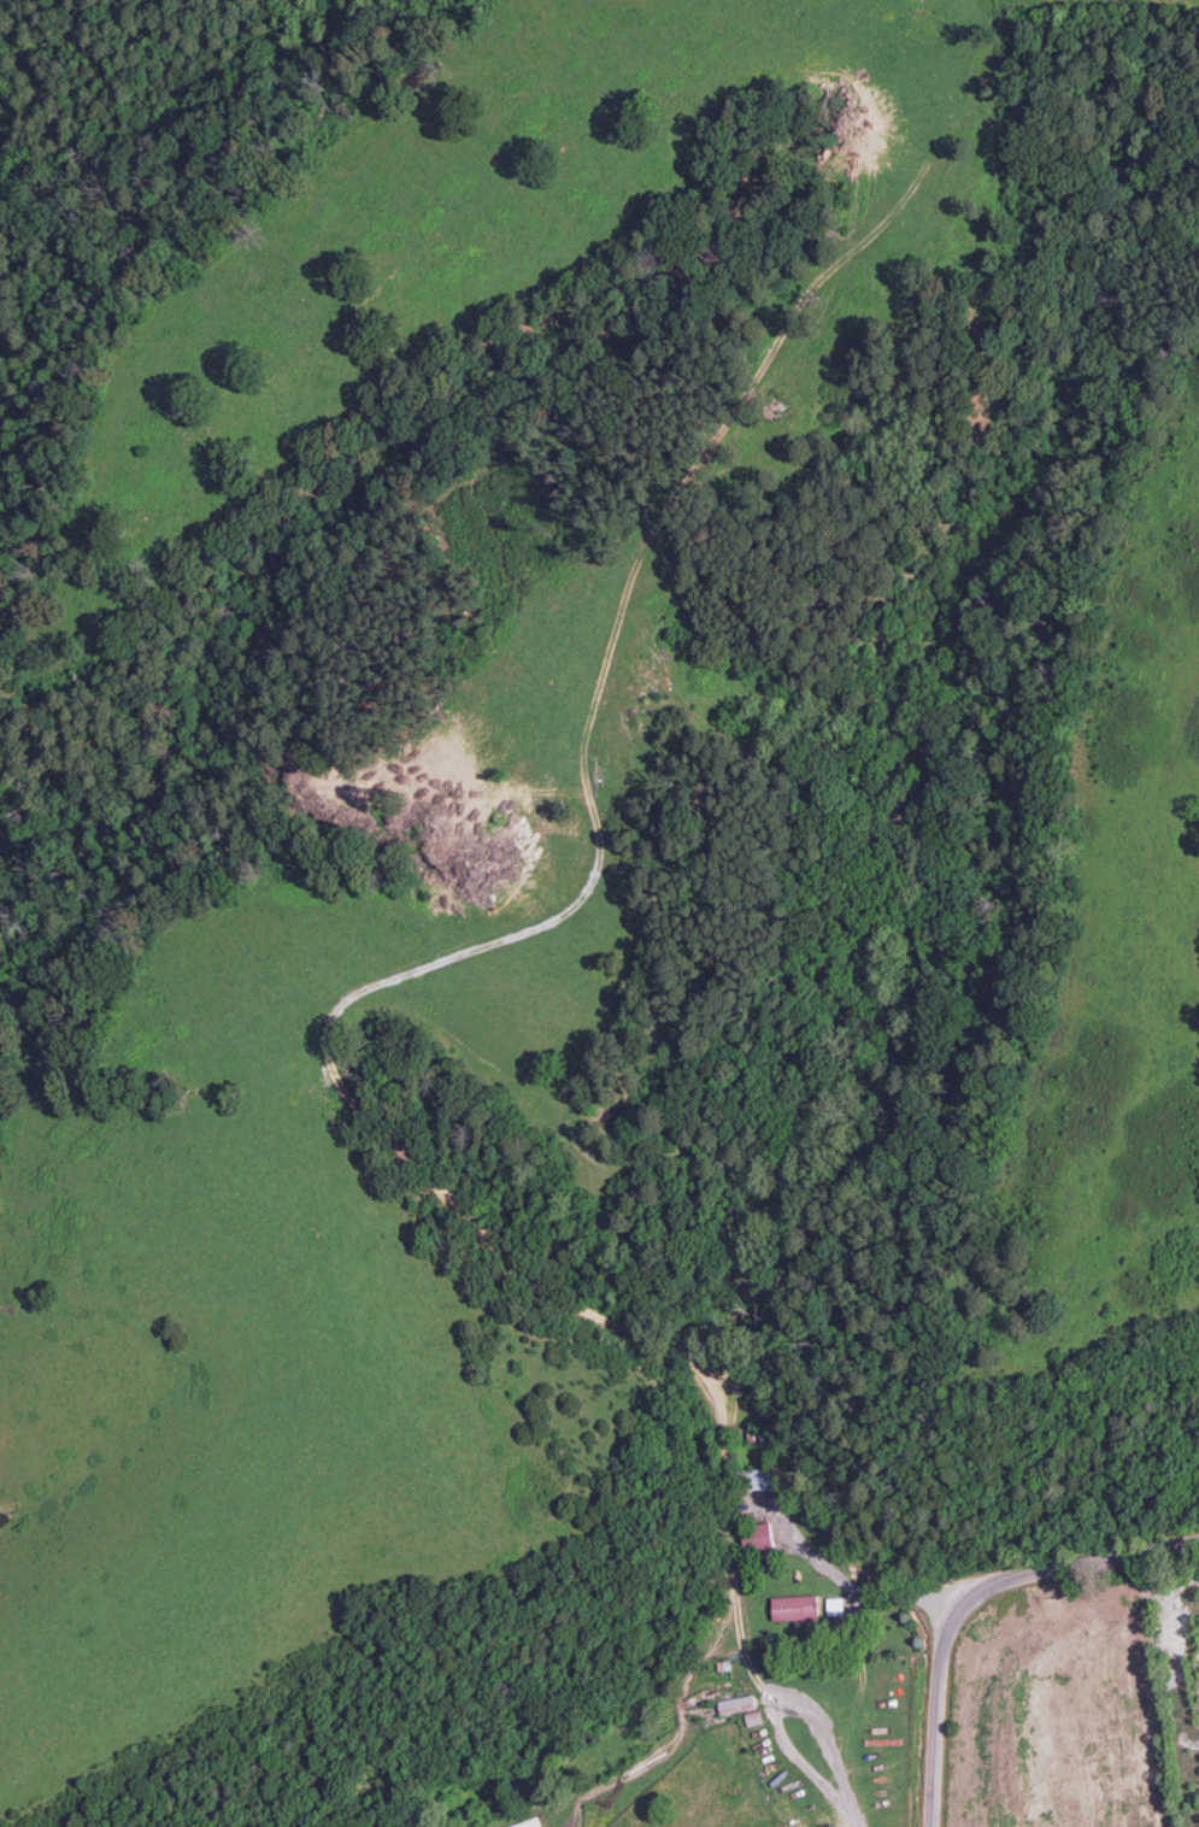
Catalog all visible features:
building: (759, 1478)
building: (756, 1537)
road: (964, 1594)
building: (834, 1606)
building: (794, 1608)
road: (778, 1700)
building: (528, 1823)
road: (859, 1823)

